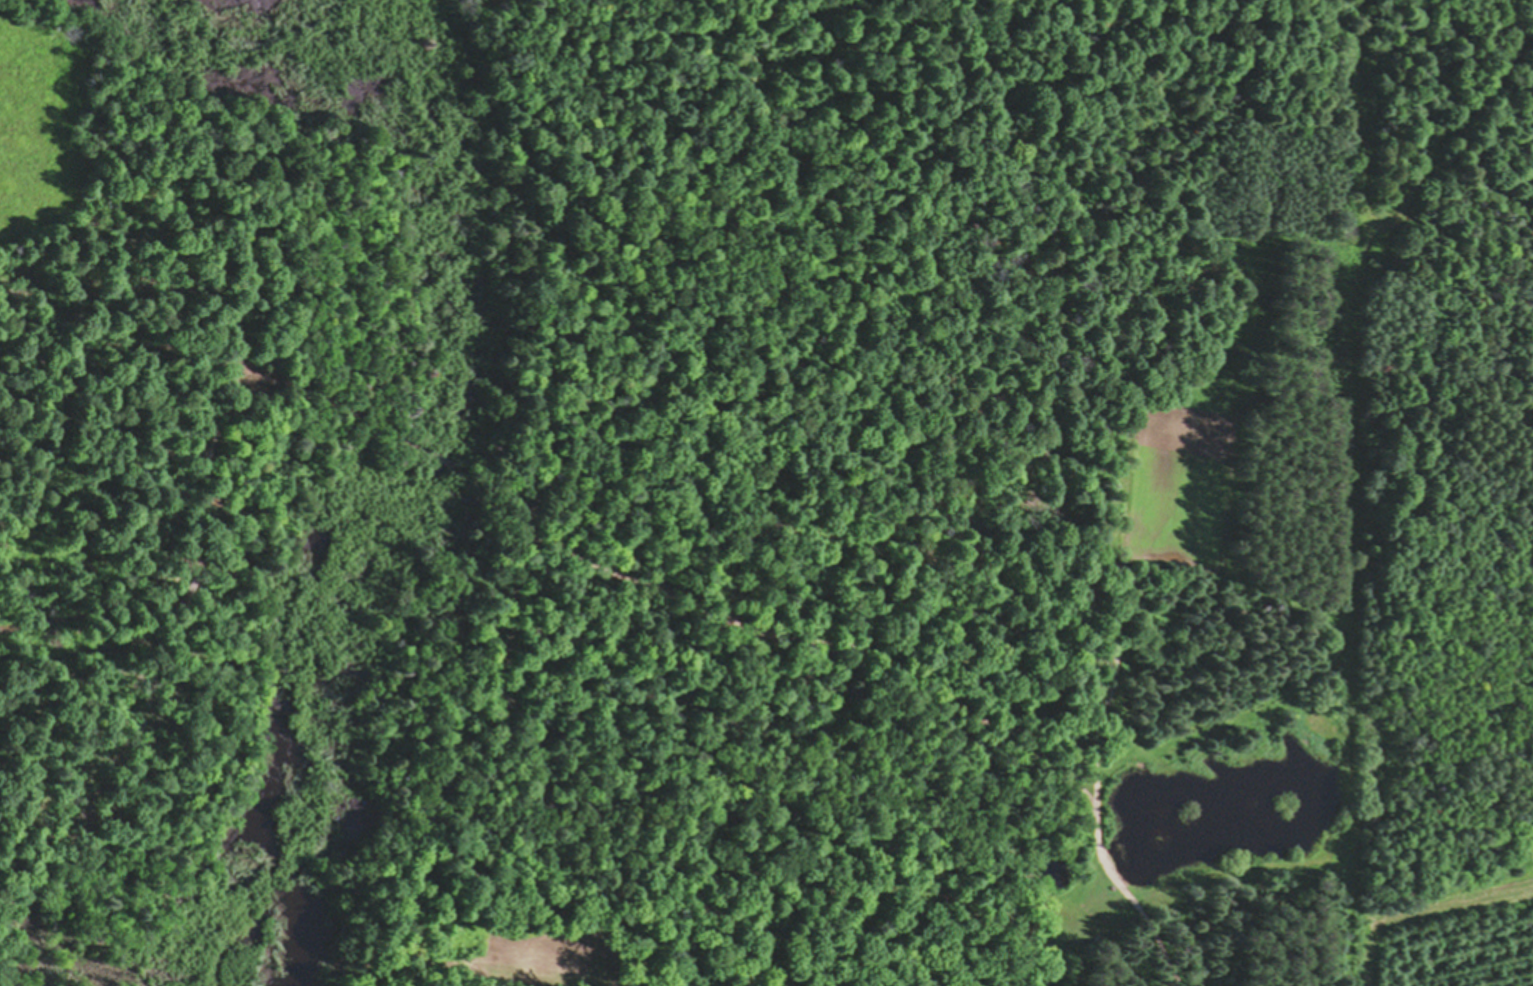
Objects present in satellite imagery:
road: (1352, 492)

